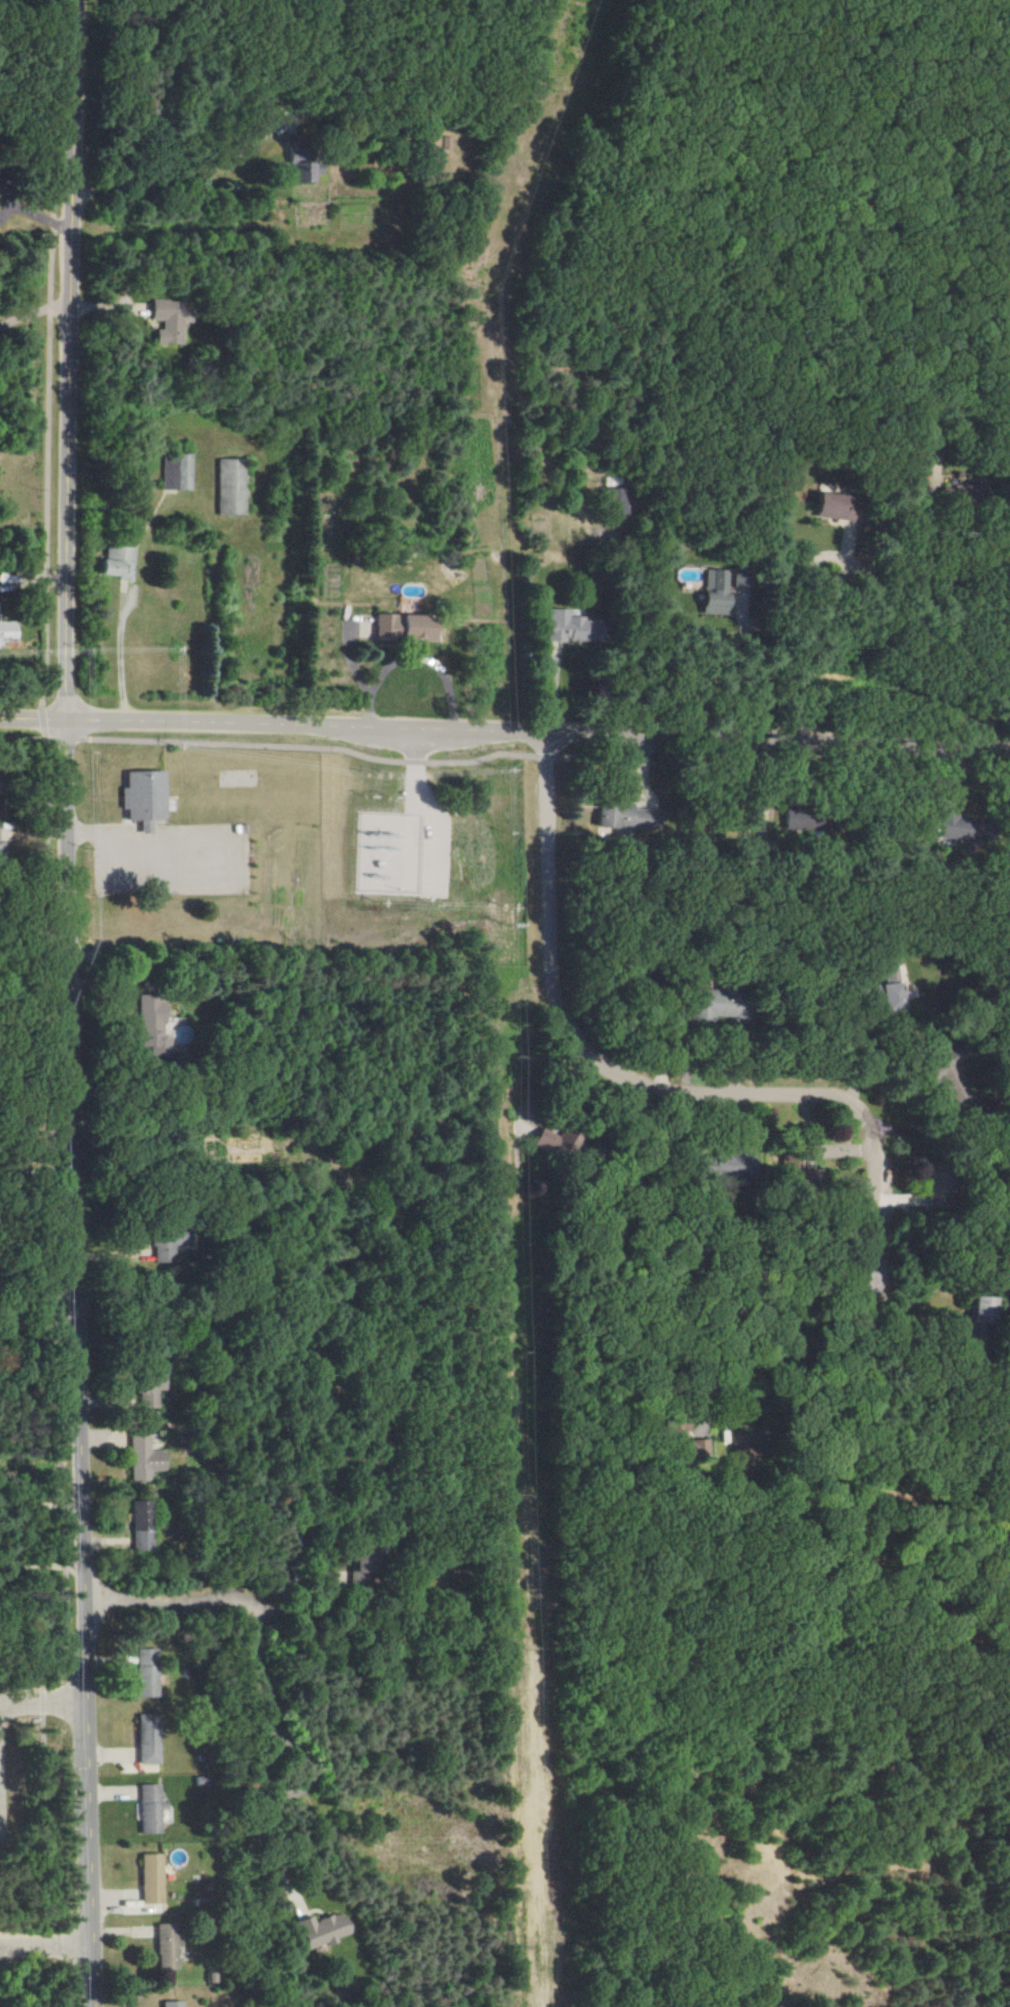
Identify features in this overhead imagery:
building: (432, 143)
building: (307, 171)
road: (184, 174)
road: (26, 212)
road: (36, 306)
building: (167, 321)
building: (176, 472)
building: (231, 487)
building: (834, 506)
building: (114, 562)
building: (715, 593)
building: (401, 627)
building: (566, 627)
building: (6, 631)
road: (929, 641)
road: (793, 654)
road: (752, 665)
road: (34, 720)
road: (539, 732)
road: (507, 756)
building: (140, 798)
building: (622, 816)
building: (800, 821)
building: (953, 827)
building: (1, 850)
road: (36, 922)
building: (883, 993)
road: (74, 1003)
road: (50, 1005)
building: (714, 1005)
building: (154, 1027)
building: (950, 1074)
road: (643, 1084)
building: (549, 1141)
building: (793, 1158)
building: (731, 1163)
road: (39, 1171)
building: (983, 1307)
road: (41, 1324)
road: (901, 1324)
road: (779, 1328)
building: (151, 1383)
building: (688, 1444)
building: (145, 1458)
road: (43, 1508)
building: (142, 1525)
road: (43, 1565)
building: (145, 1672)
road: (263, 1672)
road: (45, 1699)
building: (145, 1739)
building: (147, 1808)
building: (148, 1878)
building: (320, 1929)
road: (48, 1945)
building: (164, 1946)
building: (169, 2004)

